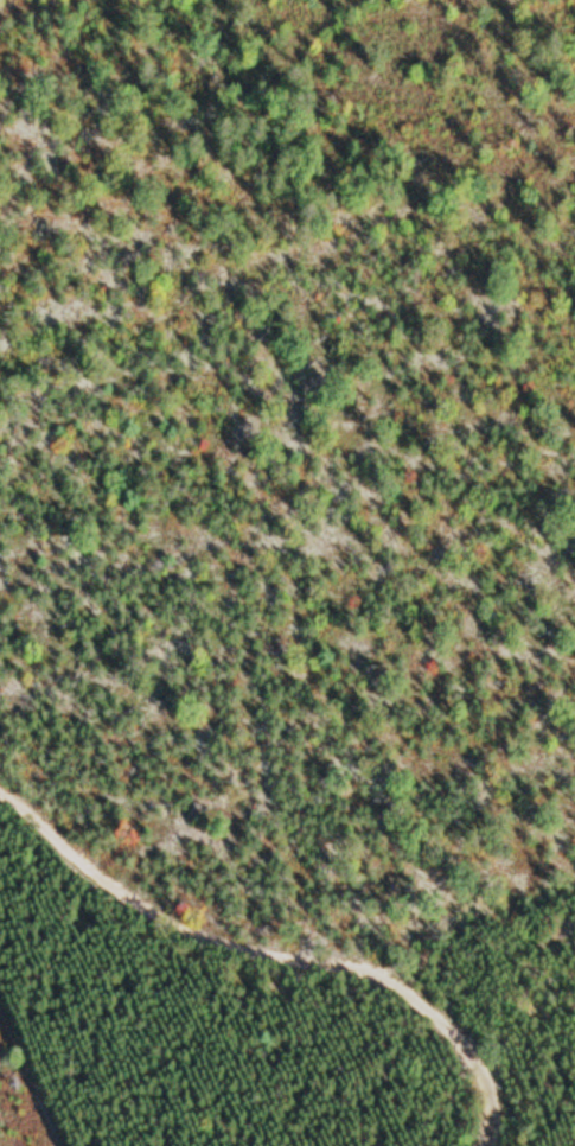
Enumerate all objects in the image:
road: (260, 923)

